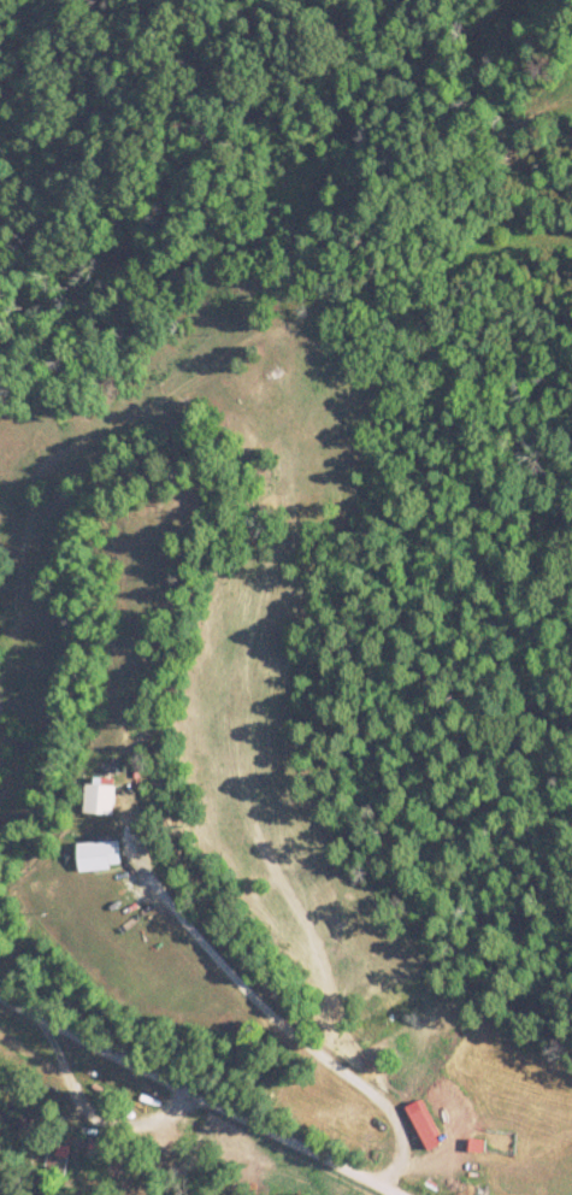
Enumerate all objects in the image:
building: (95, 855)
road: (201, 1095)

